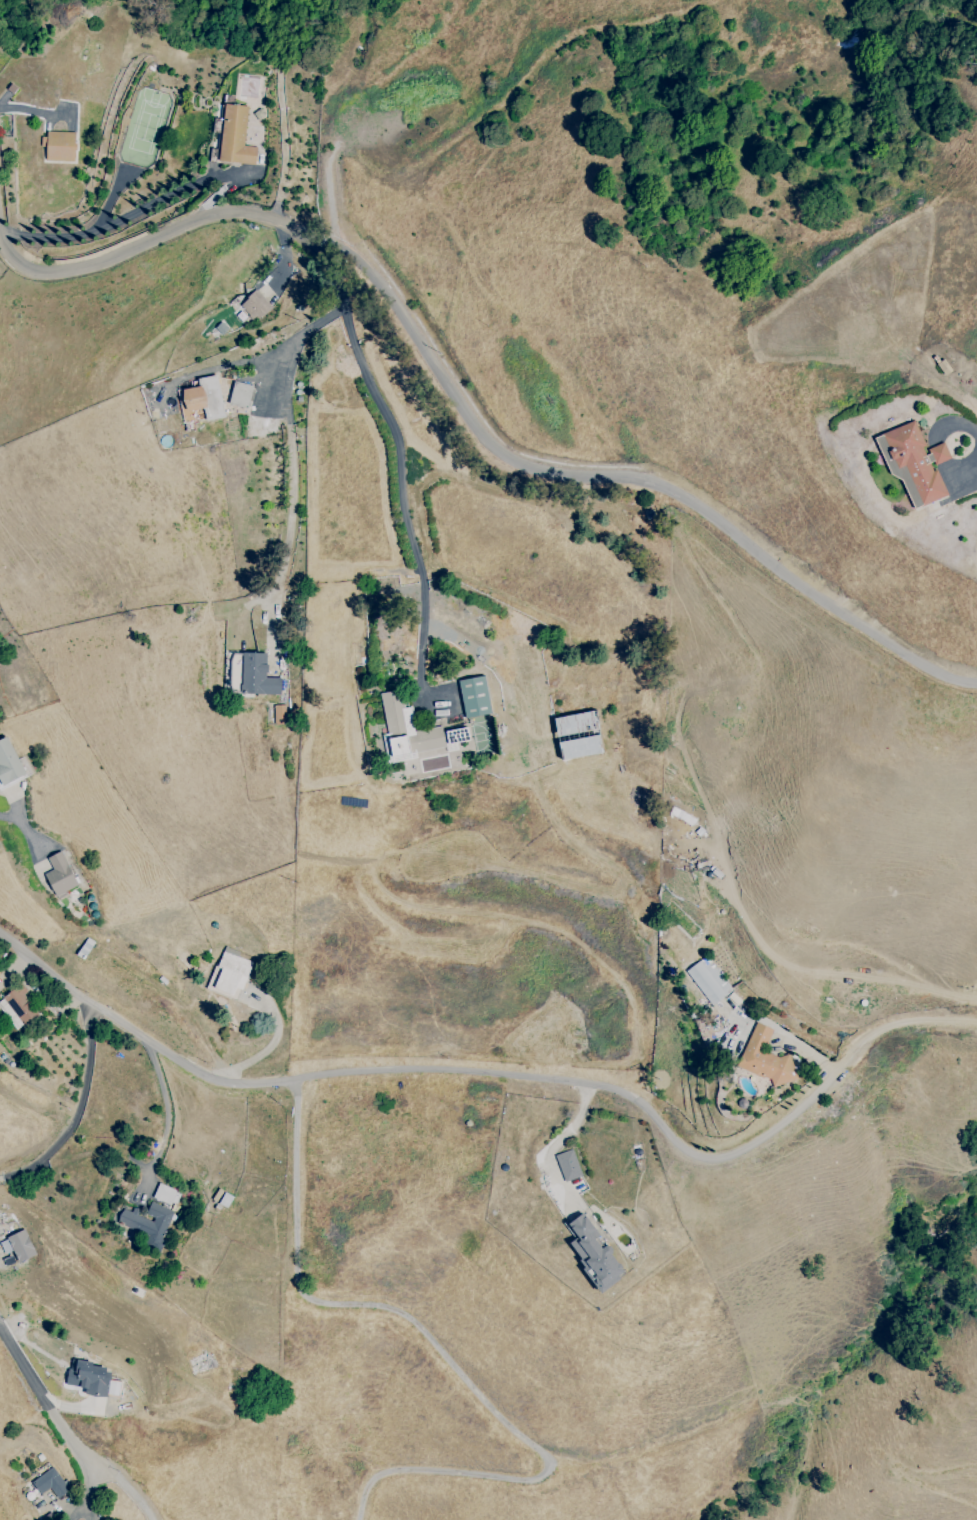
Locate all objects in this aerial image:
road: (36, 112)
building: (235, 135)
building: (59, 146)
road: (146, 206)
road: (145, 237)
building: (255, 306)
road: (418, 339)
building: (240, 394)
building: (202, 400)
road: (287, 423)
building: (913, 465)
road: (399, 489)
road: (752, 545)
building: (251, 675)
building: (474, 697)
building: (278, 714)
building: (412, 730)
building: (578, 735)
road: (8, 818)
building: (59, 874)
building: (229, 973)
road: (830, 974)
building: (708, 980)
building: (18, 1008)
building: (764, 1057)
road: (504, 1075)
road: (166, 1109)
road: (79, 1110)
road: (555, 1146)
building: (567, 1165)
building: (166, 1194)
building: (148, 1224)
building: (17, 1246)
building: (593, 1253)
road: (447, 1356)
building: (95, 1380)
road: (65, 1428)
road: (83, 1468)
building: (49, 1483)
road: (78, 1507)
road: (87, 1507)

